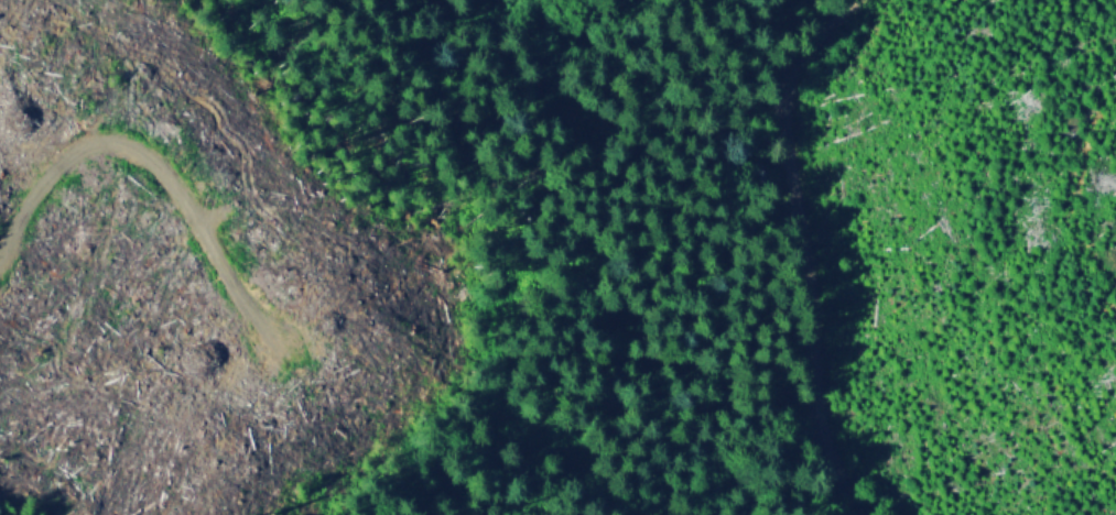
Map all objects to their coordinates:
road: (808, 250)

